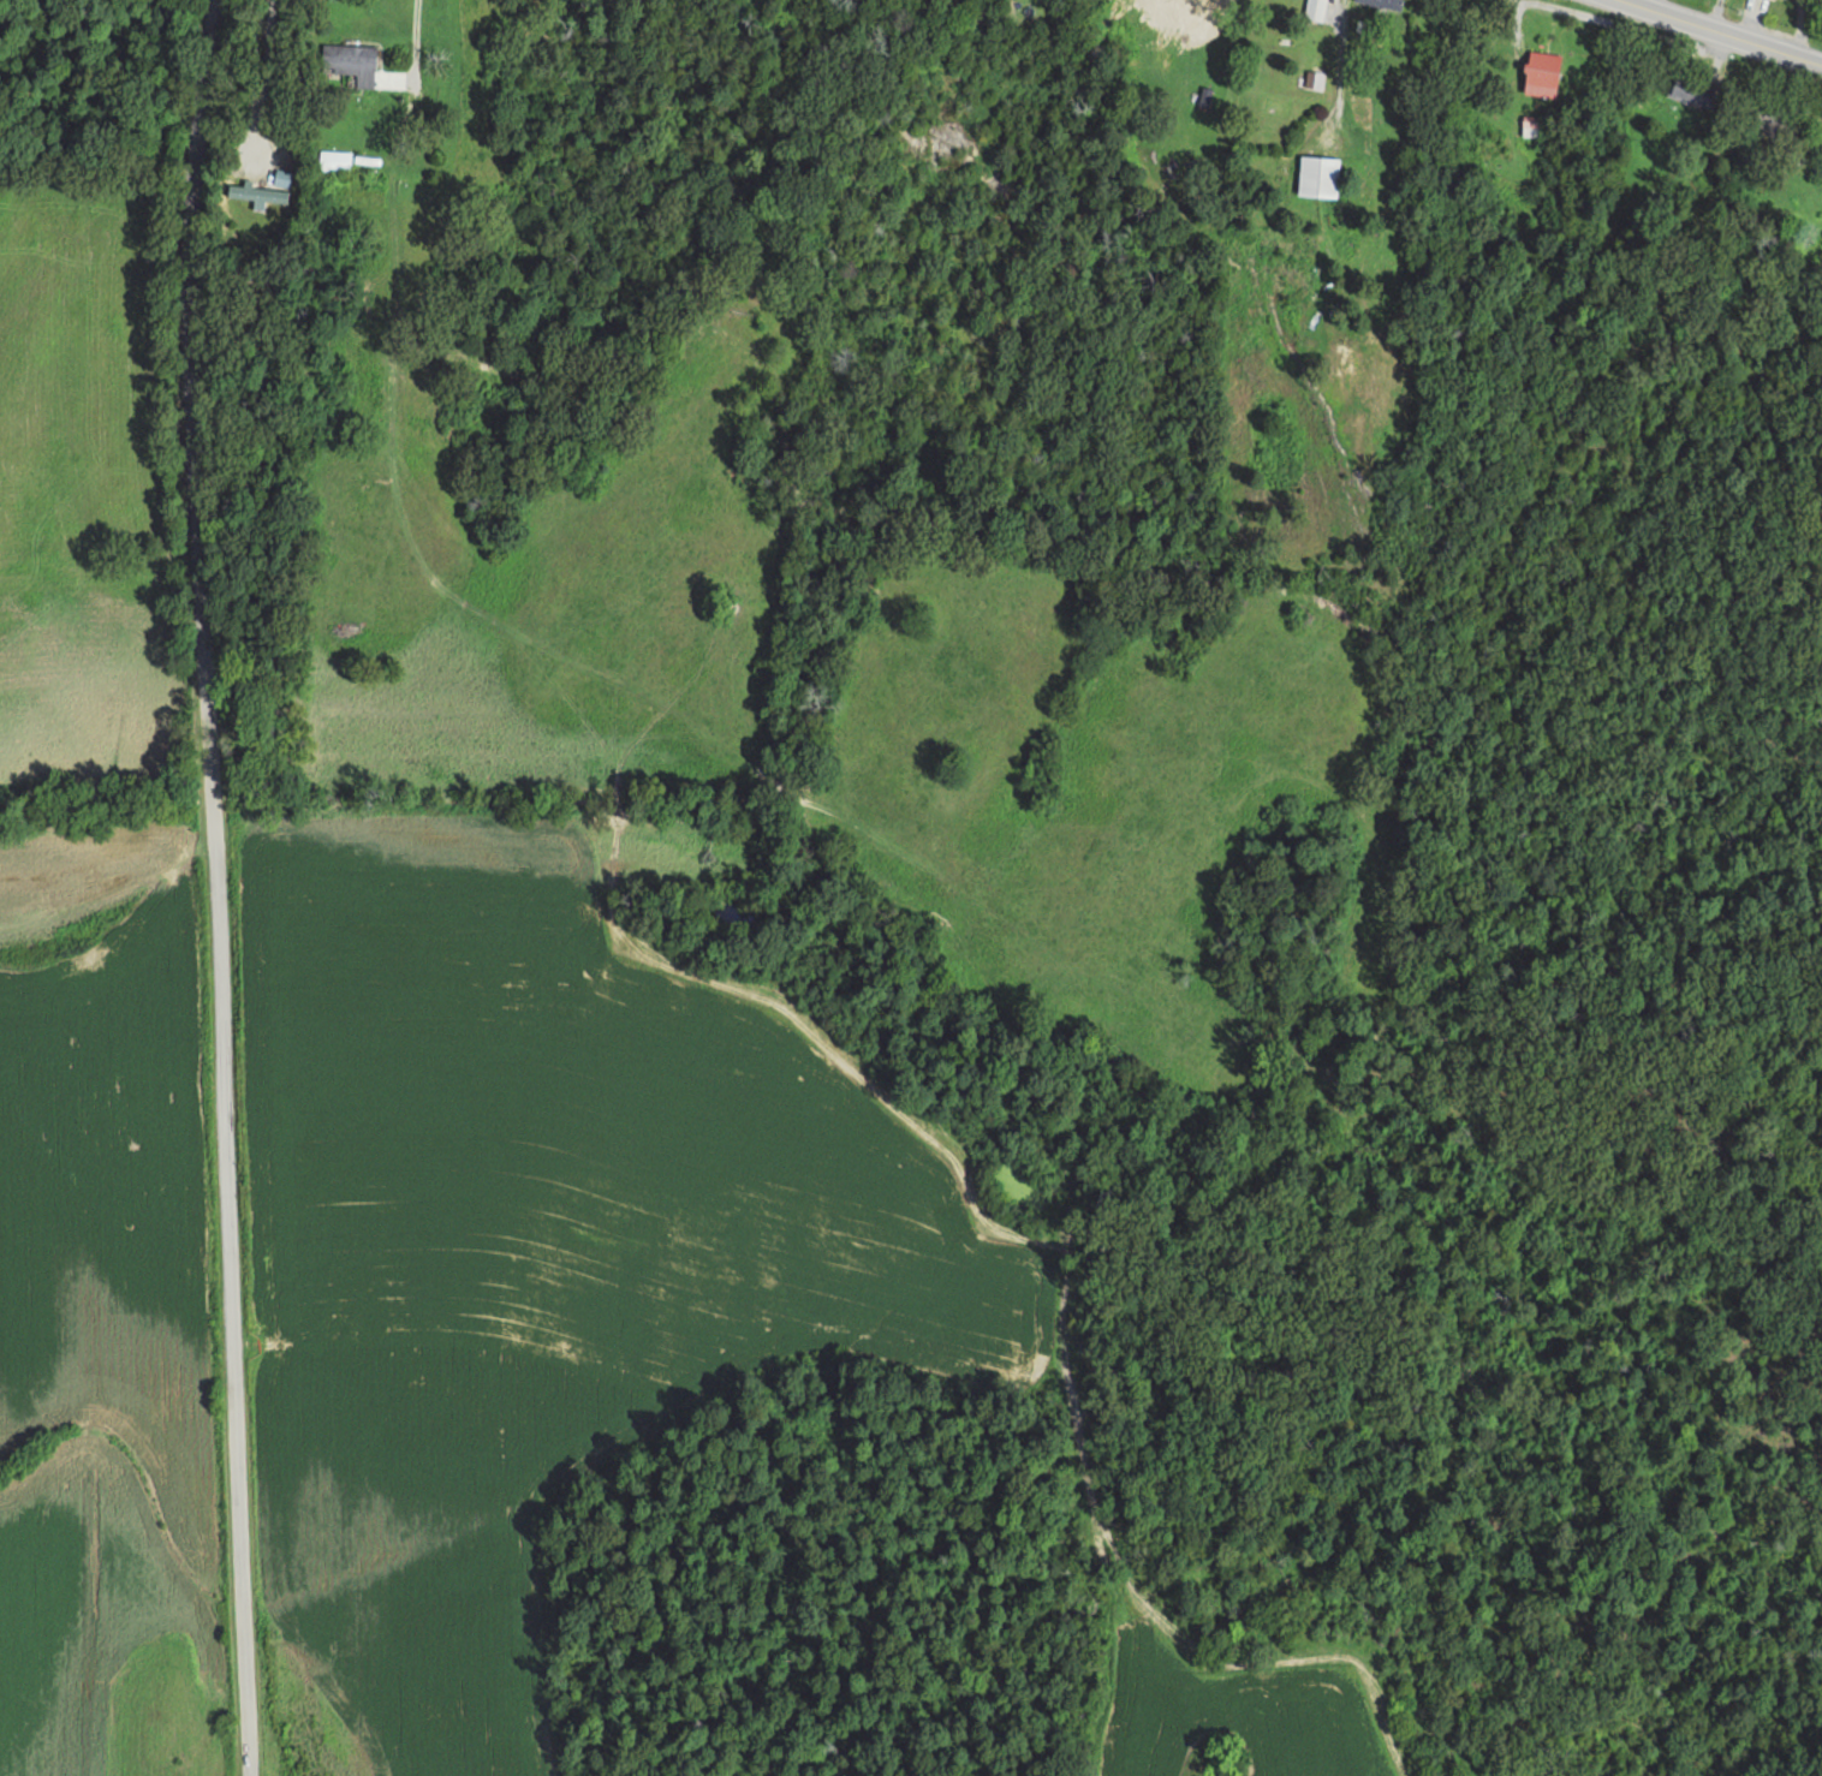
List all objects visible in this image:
building: (1382, 2)
building: (1314, 10)
road: (1723, 31)
road: (406, 37)
building: (349, 61)
building: (1537, 67)
road: (258, 77)
building: (1690, 90)
building: (1530, 126)
building: (333, 160)
building: (1316, 177)
building: (254, 192)
road: (195, 887)

